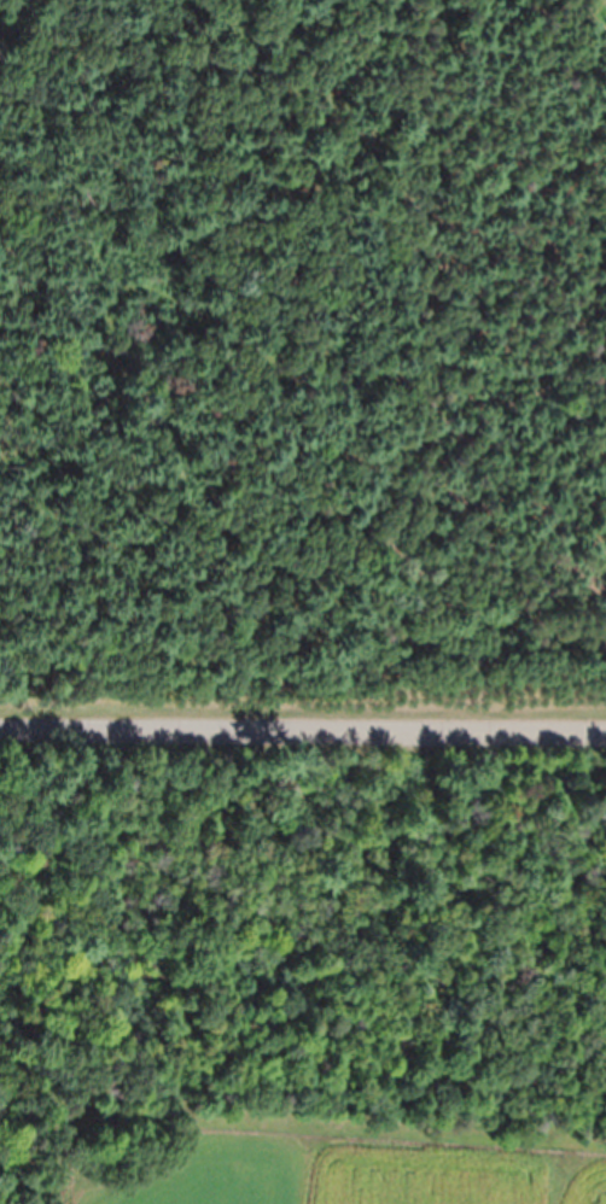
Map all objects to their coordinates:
road: (302, 732)

